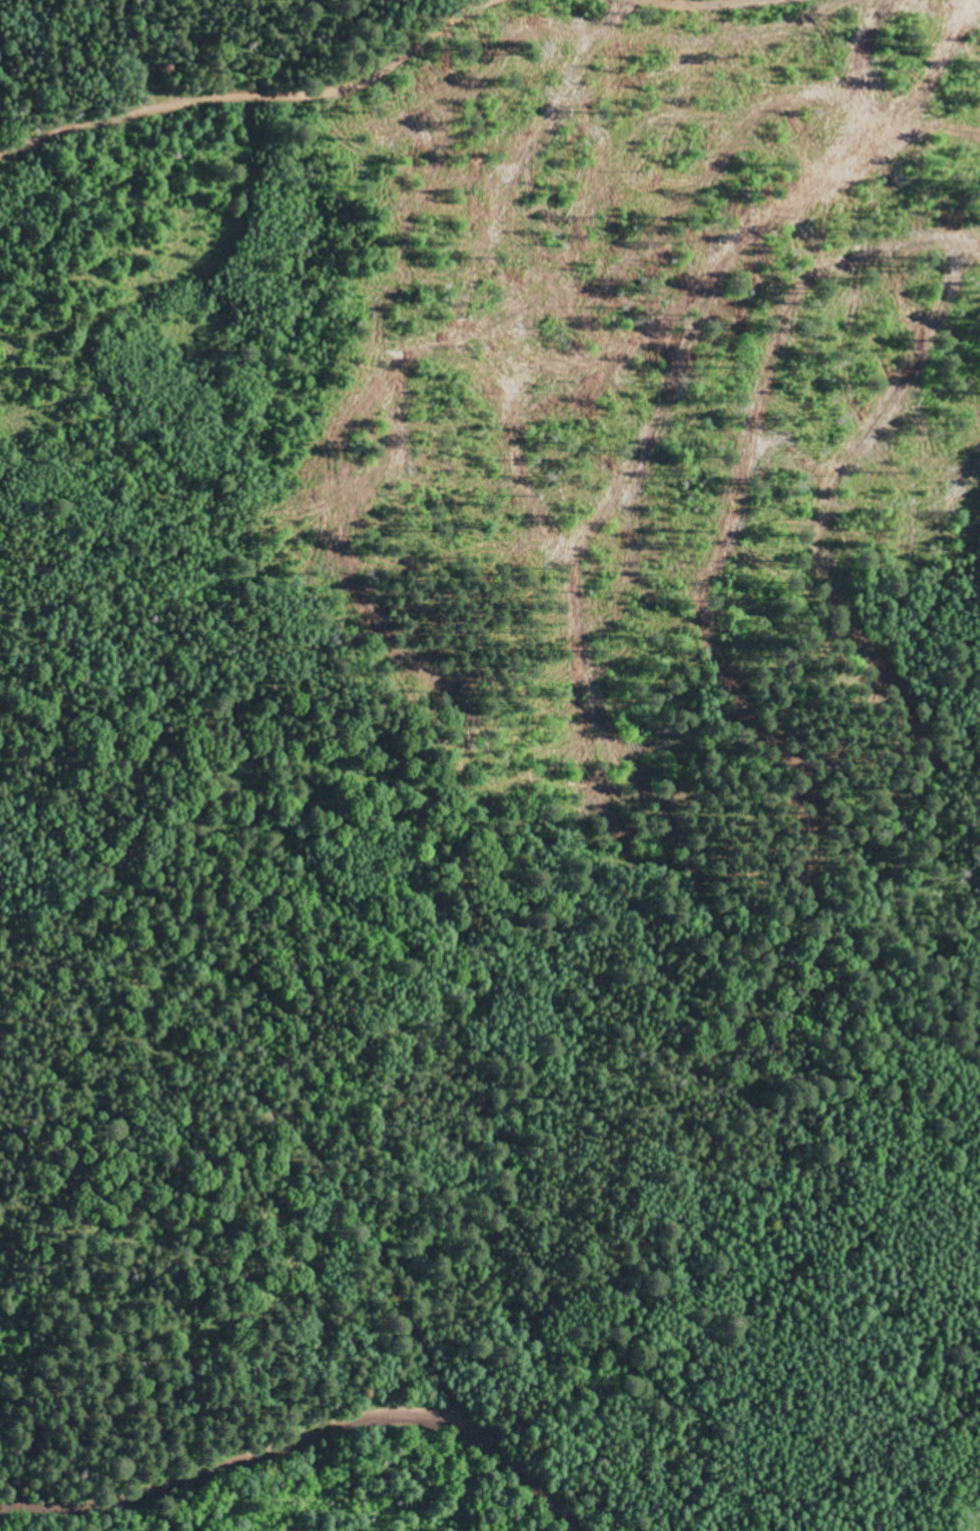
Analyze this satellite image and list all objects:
road: (190, 79)
road: (588, 435)
road: (341, 1410)

